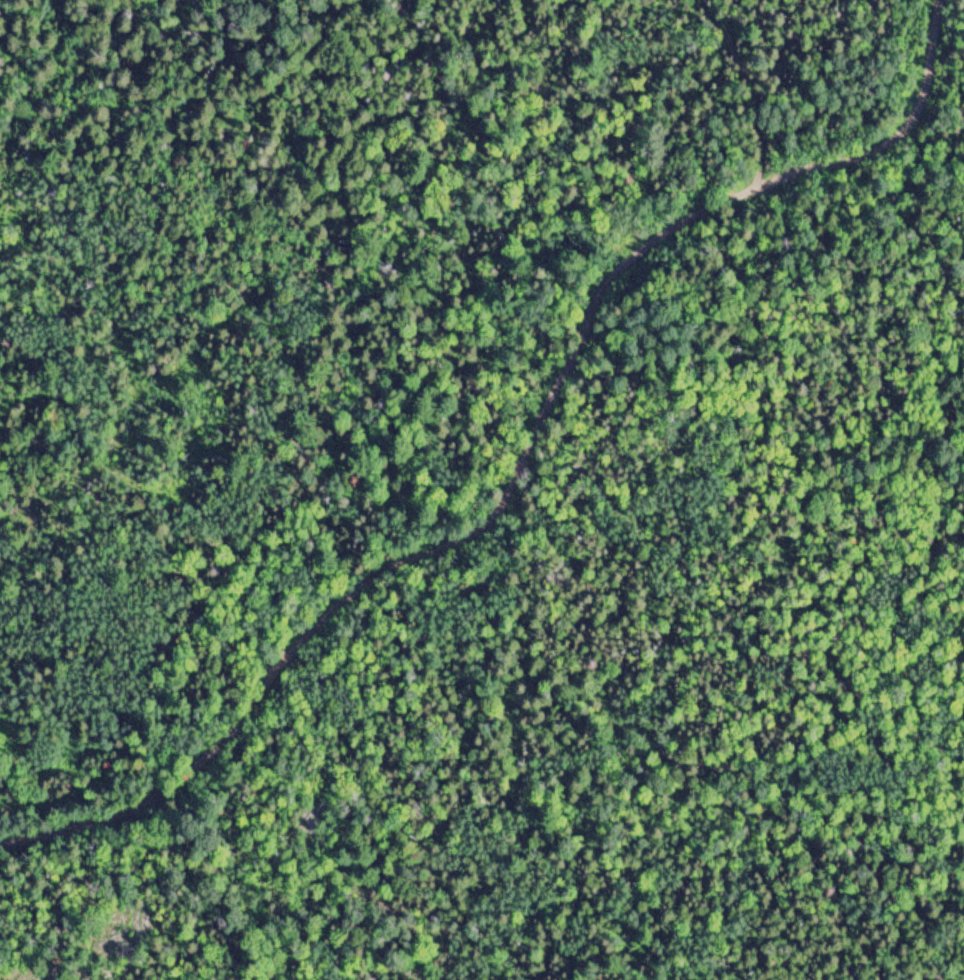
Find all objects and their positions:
road: (531, 473)

